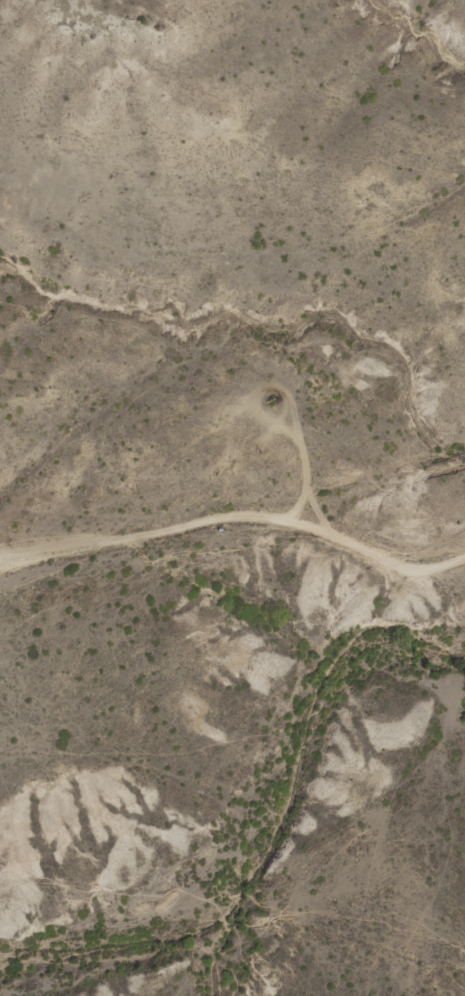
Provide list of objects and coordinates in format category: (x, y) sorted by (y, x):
road: (235, 557)

